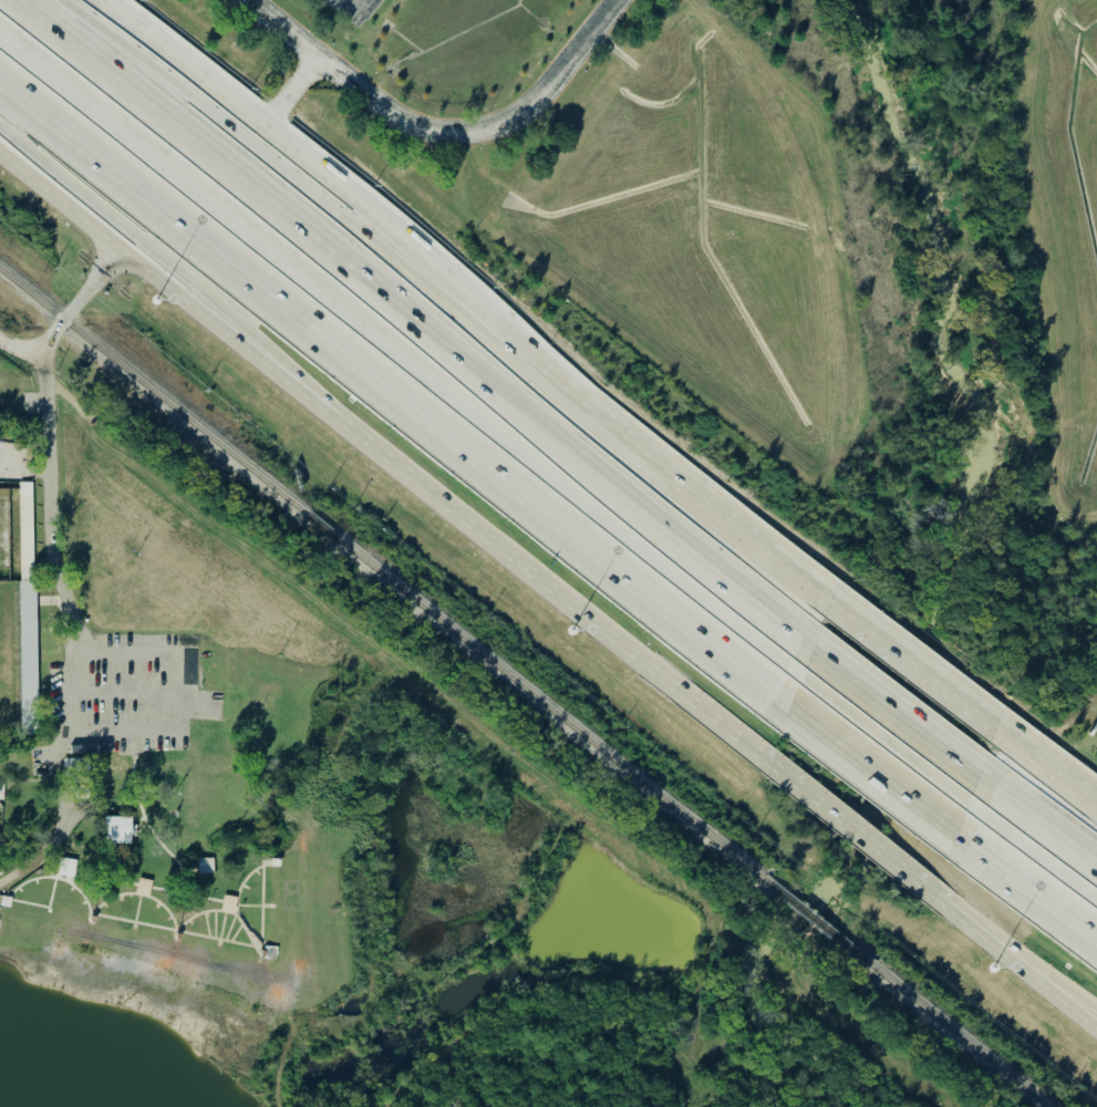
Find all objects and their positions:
parking lot: (392, 22)
road: (589, 33)
road: (303, 45)
road: (291, 91)
road: (466, 128)
road: (105, 218)
road: (394, 231)
road: (366, 242)
road: (403, 341)
road: (20, 348)
road: (393, 391)
road: (386, 454)
road: (44, 476)
road: (752, 540)
river: (944, 577)
railway: (383, 580)
building: (29, 608)
road: (124, 654)
road: (910, 670)
road: (131, 696)
railway: (477, 725)
road: (890, 727)
road: (127, 733)
road: (873, 765)
road: (1045, 770)
building: (1, 793)
building: (120, 831)
road: (850, 832)
road: (1035, 834)
building: (69, 868)
road: (1027, 881)
railway: (815, 927)
road: (1014, 958)
railway: (953, 1036)

